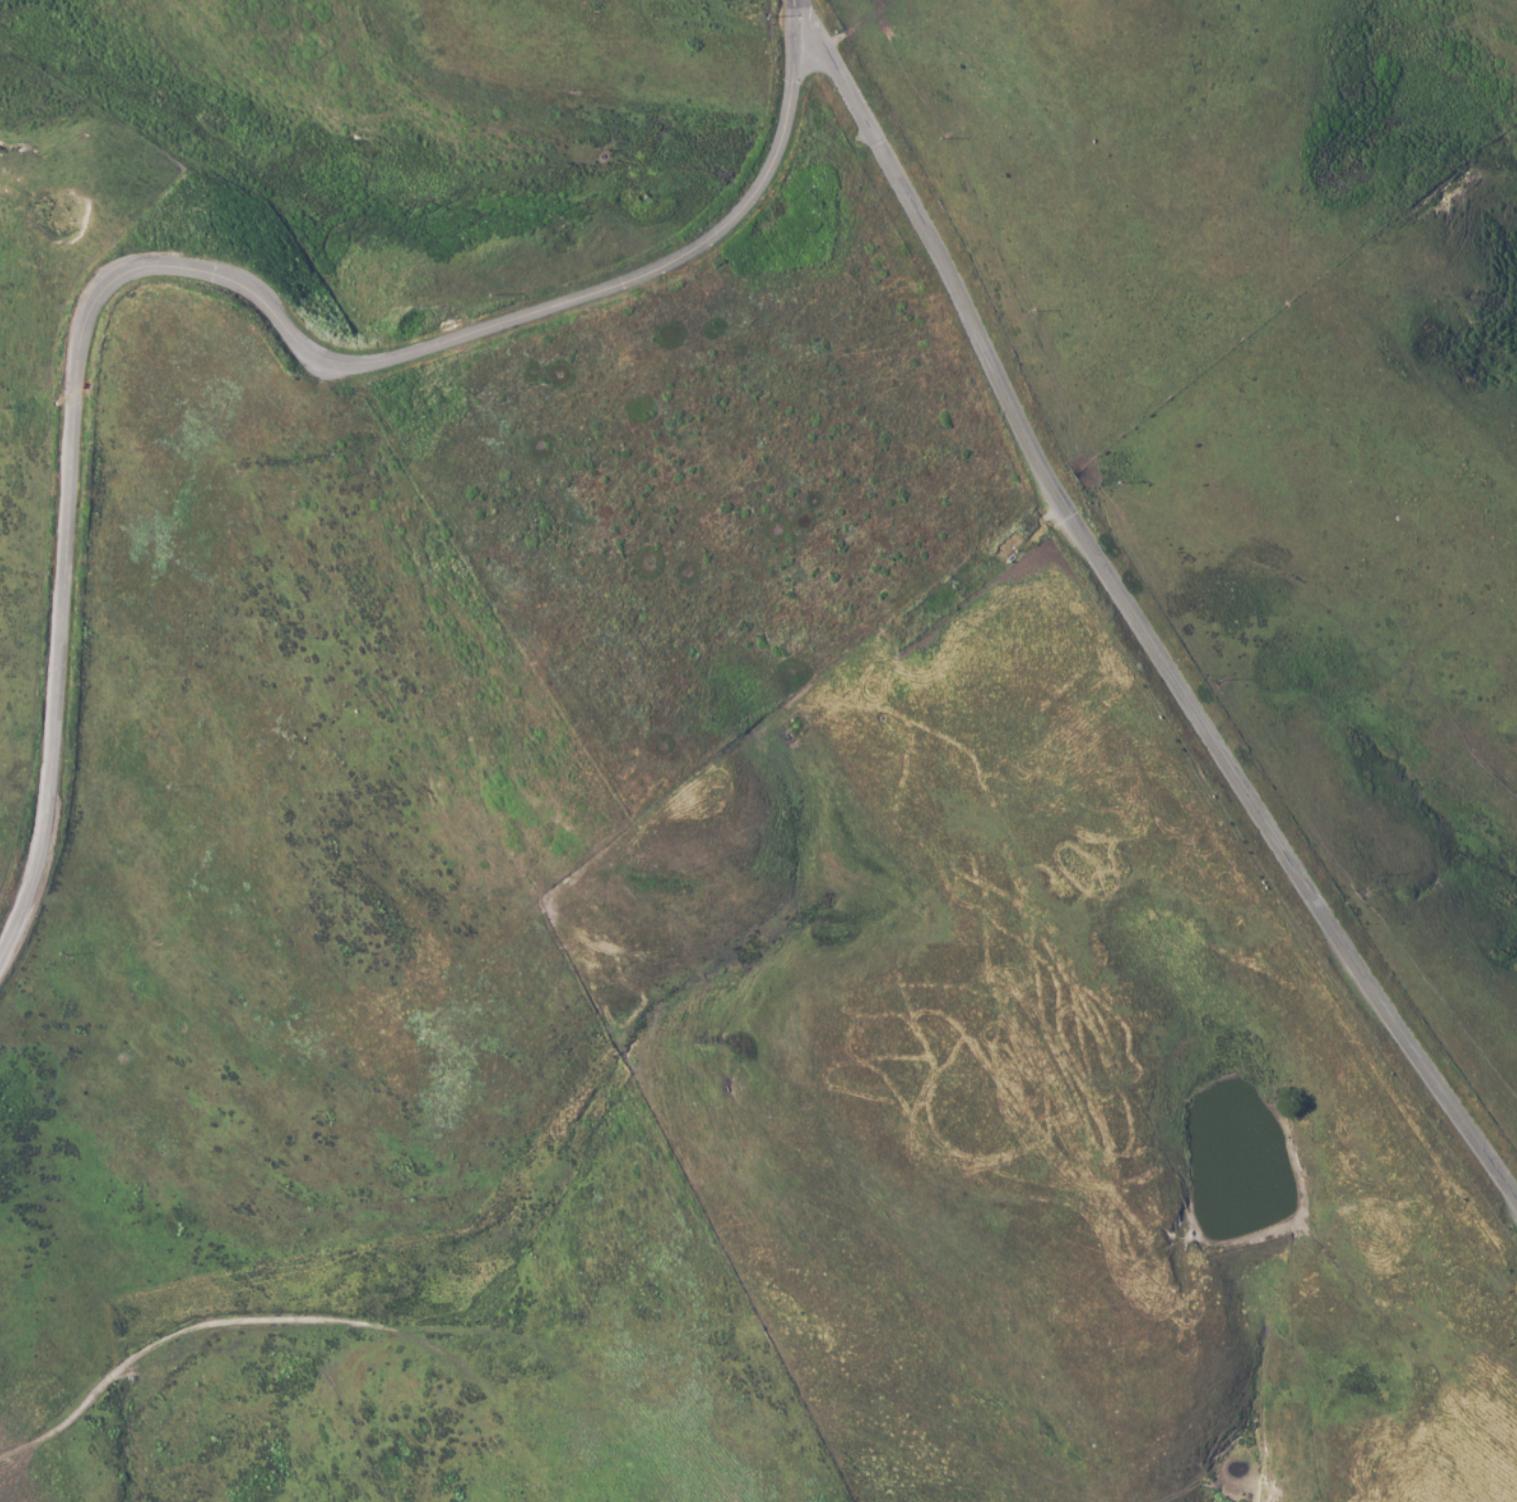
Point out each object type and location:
road: (223, 280)
road: (1135, 625)
road: (227, 1320)

